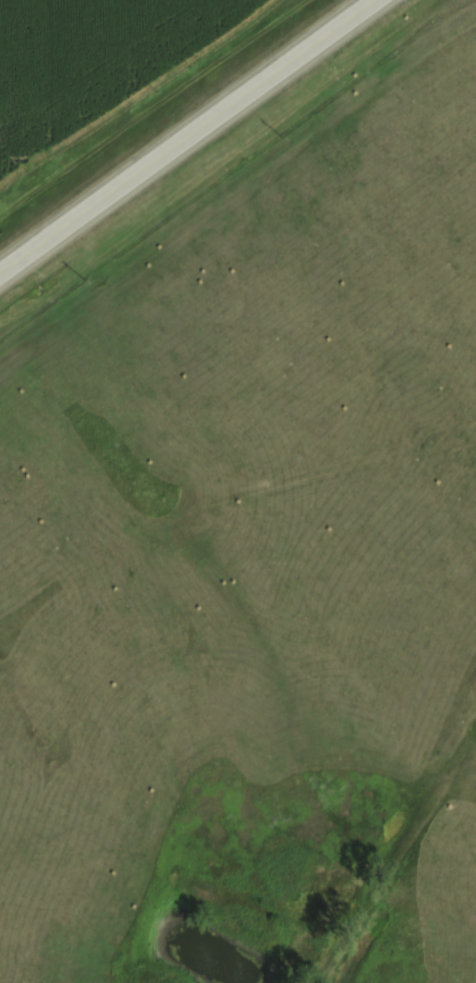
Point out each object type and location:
road: (189, 137)

